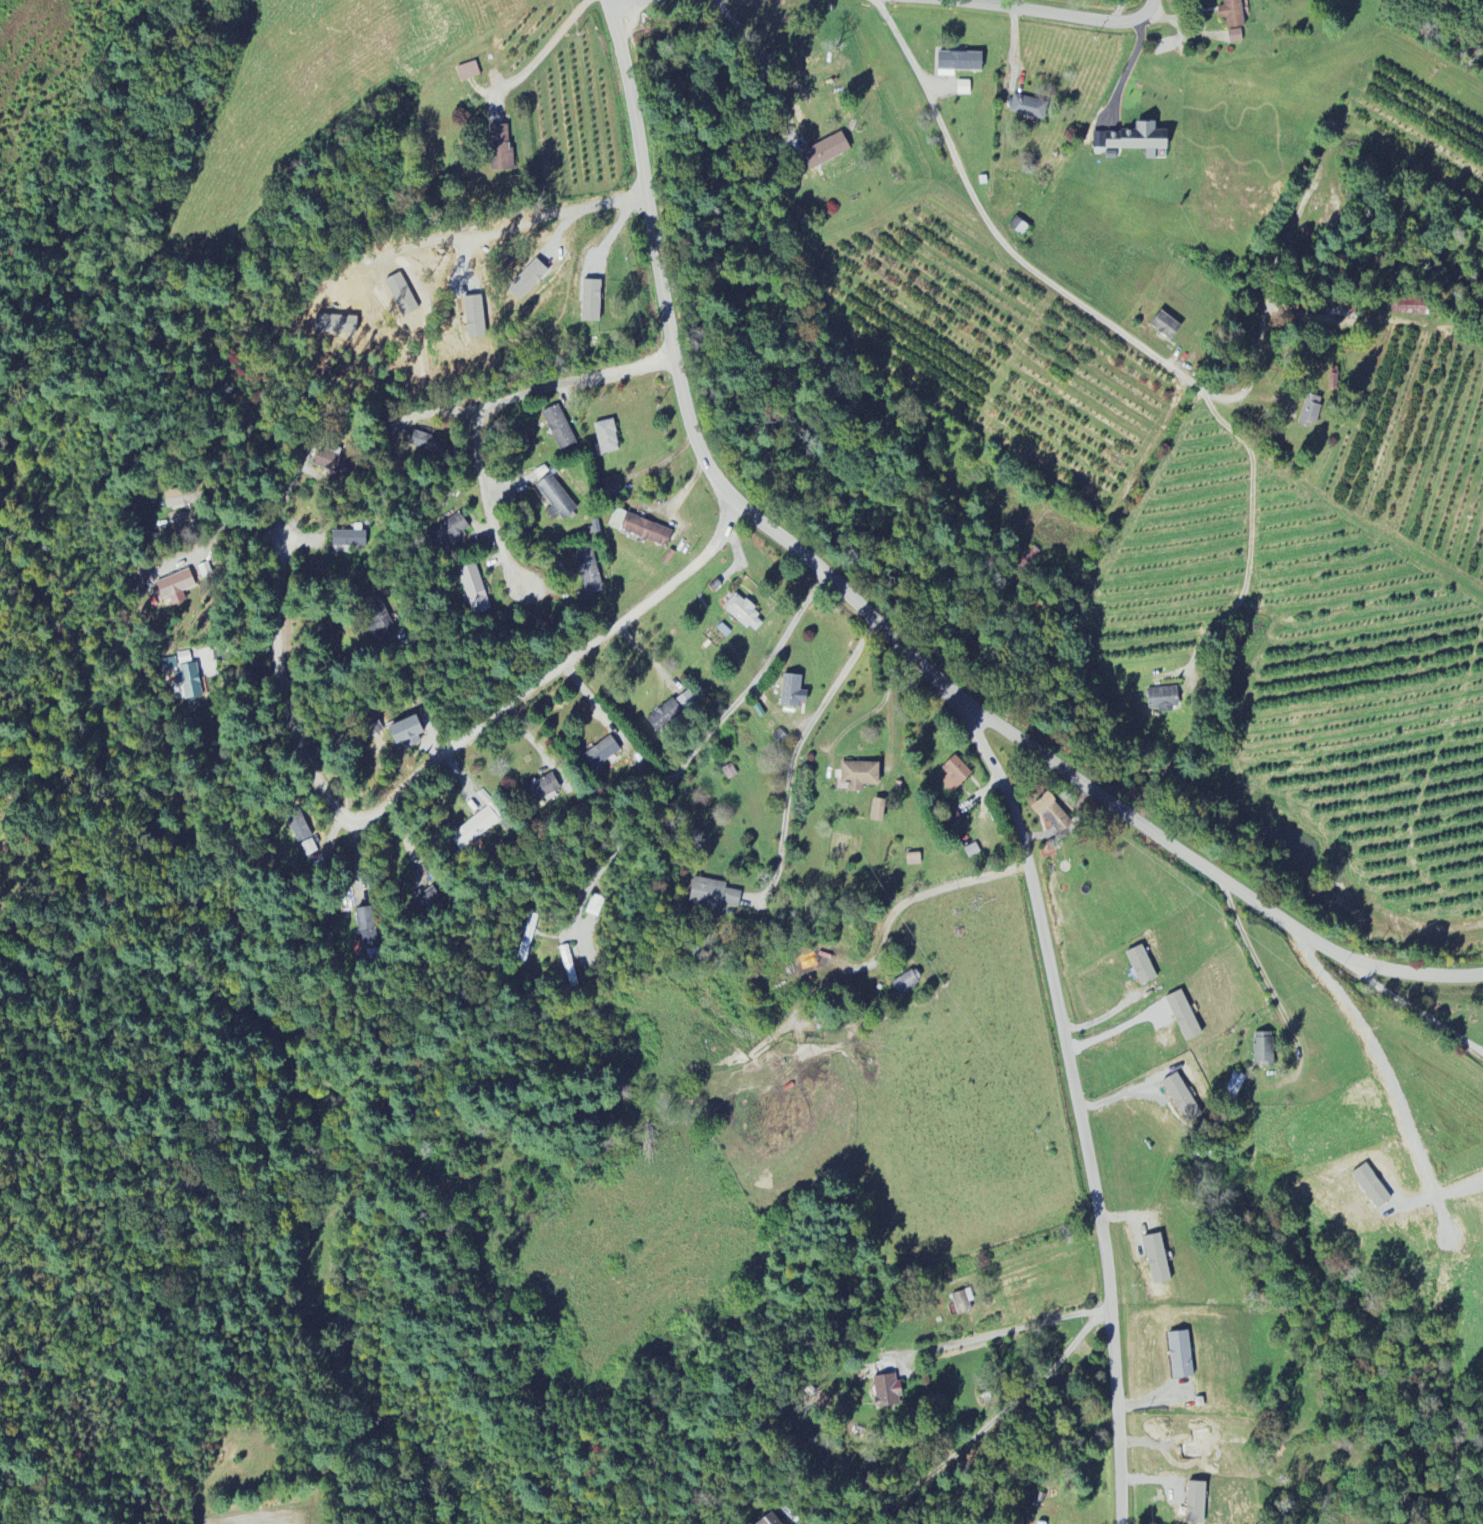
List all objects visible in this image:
road: (629, 3)
road: (1024, 13)
building: (1232, 13)
building: (1234, 36)
road: (545, 50)
building: (958, 63)
building: (468, 72)
building: (1029, 108)
building: (1134, 140)
building: (501, 149)
building: (826, 152)
road: (564, 214)
building: (1019, 226)
road: (990, 234)
building: (528, 280)
building: (591, 301)
building: (1409, 306)
road: (1287, 311)
building: (474, 317)
building: (1166, 326)
building: (1311, 411)
road: (446, 412)
road: (483, 425)
building: (559, 428)
building: (607, 437)
building: (424, 442)
building: (335, 465)
road: (1135, 479)
building: (611, 488)
building: (181, 498)
building: (556, 499)
building: (617, 520)
building: (449, 531)
building: (647, 531)
building: (350, 539)
road: (1248, 539)
building: (588, 571)
building: (175, 585)
building: (474, 589)
building: (745, 614)
building: (384, 625)
road: (878, 628)
building: (196, 659)
building: (168, 664)
road: (333, 667)
building: (189, 682)
building: (792, 691)
building: (1163, 699)
building: (673, 712)
building: (408, 733)
road: (692, 748)
building: (602, 753)
road: (796, 753)
road: (426, 772)
building: (730, 772)
building: (954, 775)
building: (860, 776)
building: (542, 789)
building: (878, 811)
building: (1053, 814)
building: (299, 828)
building: (913, 860)
building: (713, 895)
road: (920, 895)
building: (425, 901)
building: (365, 919)
building: (527, 938)
building: (1142, 966)
building: (907, 983)
road: (1265, 983)
road: (1410, 1015)
building: (1184, 1016)
road: (1113, 1032)
building: (1264, 1050)
road: (1394, 1083)
building: (1234, 1085)
road: (1072, 1091)
building: (1182, 1099)
building: (1371, 1187)
road: (1035, 1255)
building: (1157, 1259)
building: (961, 1303)
road: (1005, 1331)
building: (1180, 1355)
building: (888, 1392)
road: (970, 1441)
building: (1196, 1503)
building: (770, 1520)
building: (1040, 1523)

